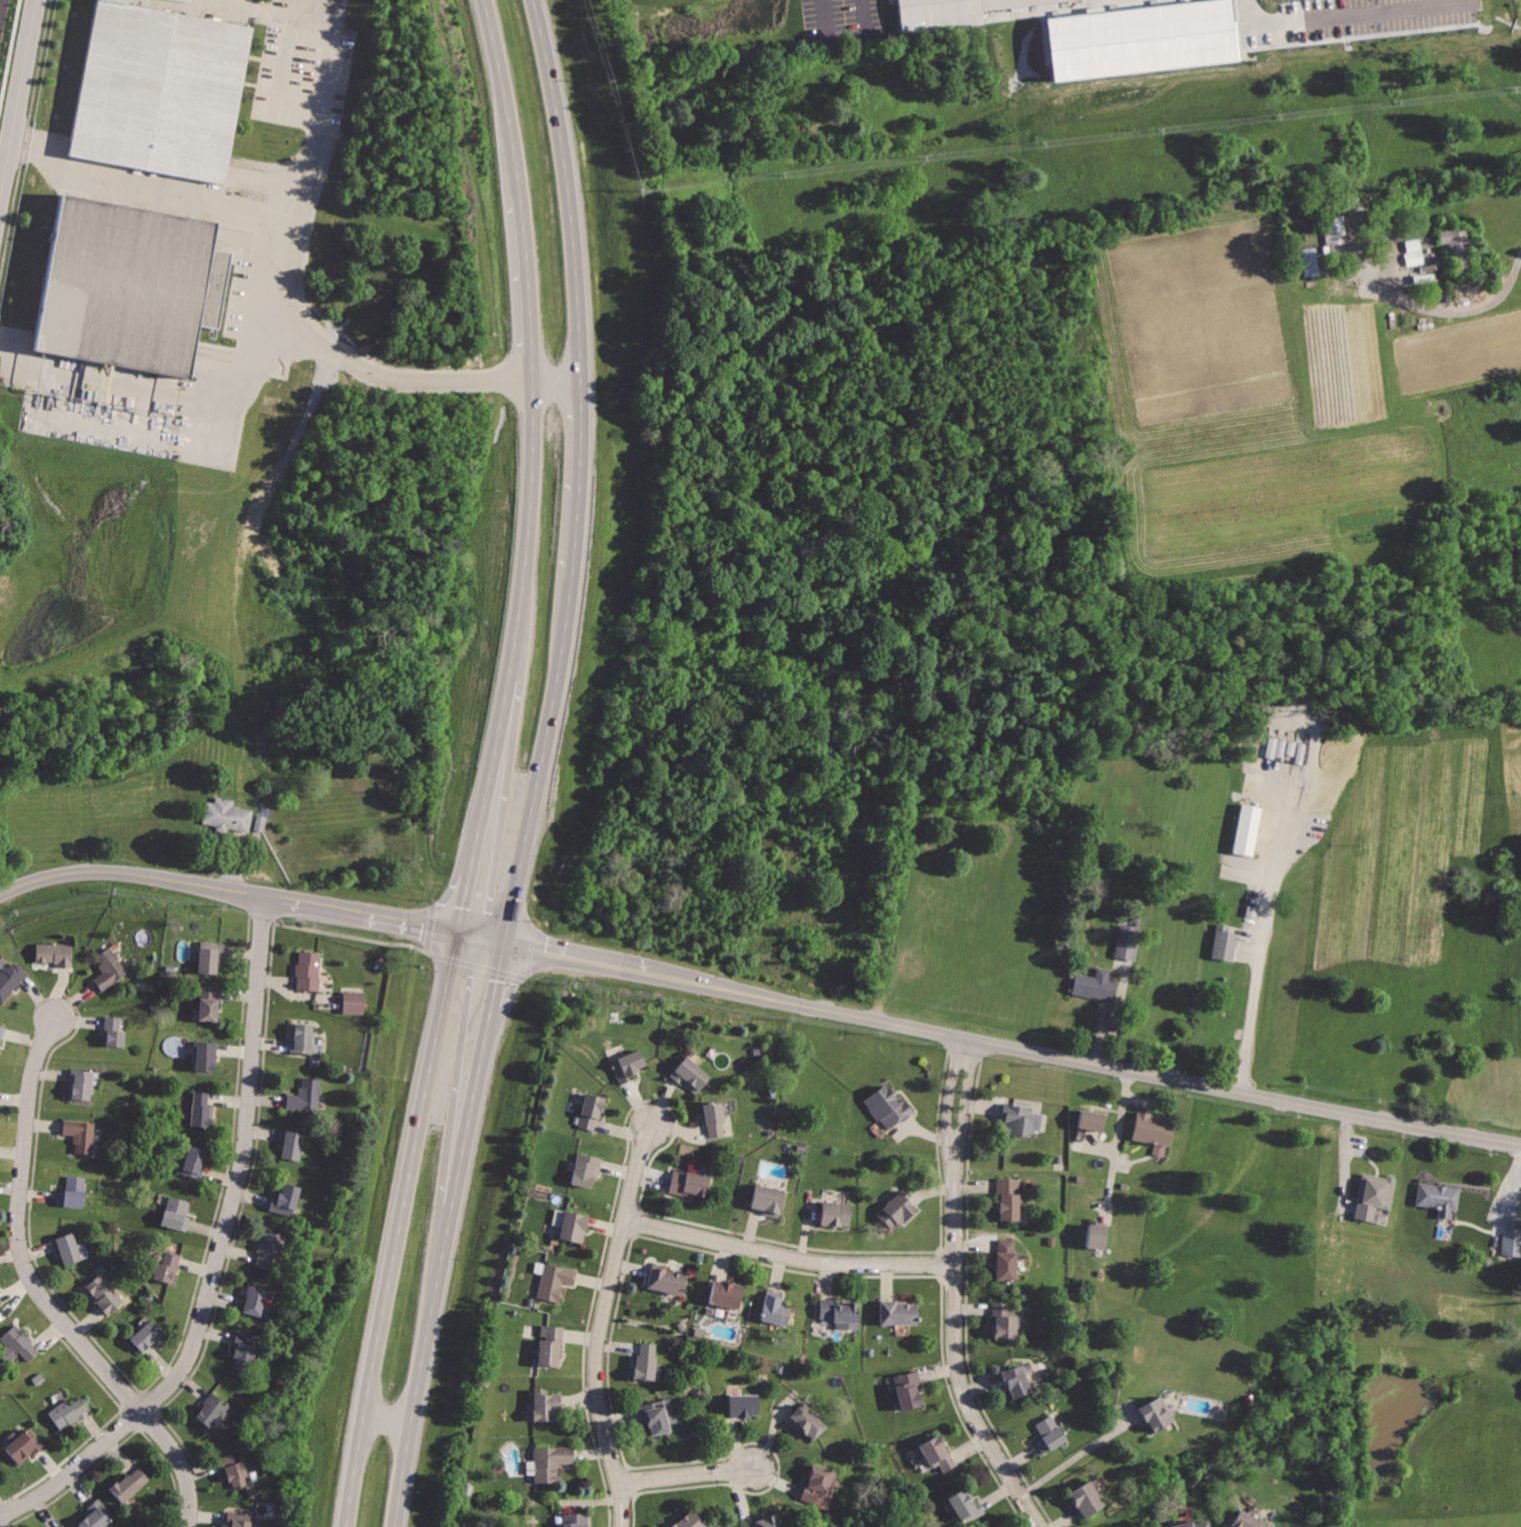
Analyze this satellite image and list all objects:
building: (1107, 0)
road: (259, 6)
building: (958, 13)
road: (1350, 16)
road: (840, 26)
road: (284, 73)
building: (164, 92)
road: (505, 95)
road: (18, 98)
road: (147, 187)
road: (568, 187)
building: (1334, 230)
building: (1459, 249)
building: (1416, 259)
building: (1308, 261)
road: (288, 283)
road: (526, 284)
building: (126, 290)
road: (1424, 307)
road: (10, 339)
road: (233, 369)
road: (557, 377)
road: (580, 477)
road: (529, 529)
road: (544, 761)
road: (496, 777)
building: (227, 815)
building: (1245, 829)
road: (131, 875)
road: (468, 906)
road: (363, 918)
traffic signals: (462, 937)
road: (484, 941)
building: (1126, 941)
road: (1261, 942)
building: (1222, 944)
traffic signals: (506, 945)
building: (56, 954)
building: (210, 957)
road: (577, 959)
building: (109, 969)
building: (310, 970)
road: (500, 973)
building: (10, 980)
building: (1093, 984)
building: (207, 1002)
building: (355, 1002)
building: (114, 1032)
building: (1, 1035)
building: (302, 1038)
building: (205, 1055)
road: (1084, 1063)
building: (627, 1065)
building: (690, 1073)
building: (79, 1084)
building: (304, 1096)
road: (949, 1100)
road: (968, 1102)
road: (474, 1103)
building: (888, 1106)
building: (201, 1109)
building: (590, 1111)
building: (714, 1117)
building: (1021, 1118)
building: (1091, 1119)
building: (1156, 1132)
building: (82, 1133)
building: (293, 1144)
road: (1116, 1147)
building: (194, 1161)
building: (585, 1169)
building: (1370, 1174)
building: (689, 1183)
building: (72, 1192)
building: (1372, 1194)
building: (1437, 1197)
building: (284, 1198)
building: (767, 1198)
building: (1008, 1198)
building: (897, 1210)
building: (176, 1212)
building: (834, 1212)
building: (557, 1216)
building: (574, 1225)
road: (401, 1231)
building: (1098, 1234)
building: (1510, 1241)
building: (70, 1249)
building: (269, 1249)
road: (221, 1255)
road: (790, 1256)
building: (1005, 1259)
building: (166, 1267)
building: (668, 1279)
building: (555, 1280)
road: (44, 1292)
building: (726, 1293)
building: (104, 1294)
building: (255, 1298)
building: (1, 1303)
building: (775, 1309)
building: (898, 1310)
building: (839, 1312)
building: (1003, 1321)
road: (603, 1325)
building: (147, 1335)
building: (20, 1342)
building: (550, 1346)
building: (243, 1351)
road: (958, 1355)
building: (646, 1360)
road: (422, 1364)
building: (1019, 1377)
building: (908, 1388)
building: (546, 1403)
building: (744, 1404)
building: (211, 1410)
building: (69, 1411)
building: (1157, 1412)
building: (658, 1413)
road: (389, 1421)
building: (806, 1421)
building: (1050, 1434)
building: (24, 1444)
building: (939, 1453)
road: (1083, 1454)
building: (551, 1461)
building: (234, 1467)
road: (686, 1476)
building: (129, 1483)
building: (818, 1484)
building: (1087, 1496)
building: (967, 1505)
building: (96, 1514)
building: (238, 1518)
building: (575, 1518)
building: (689, 1519)
building: (1252, 1519)
building: (765, 1520)
building: (1189, 1522)
building: (62, 1525)
building: (1119, 1526)

